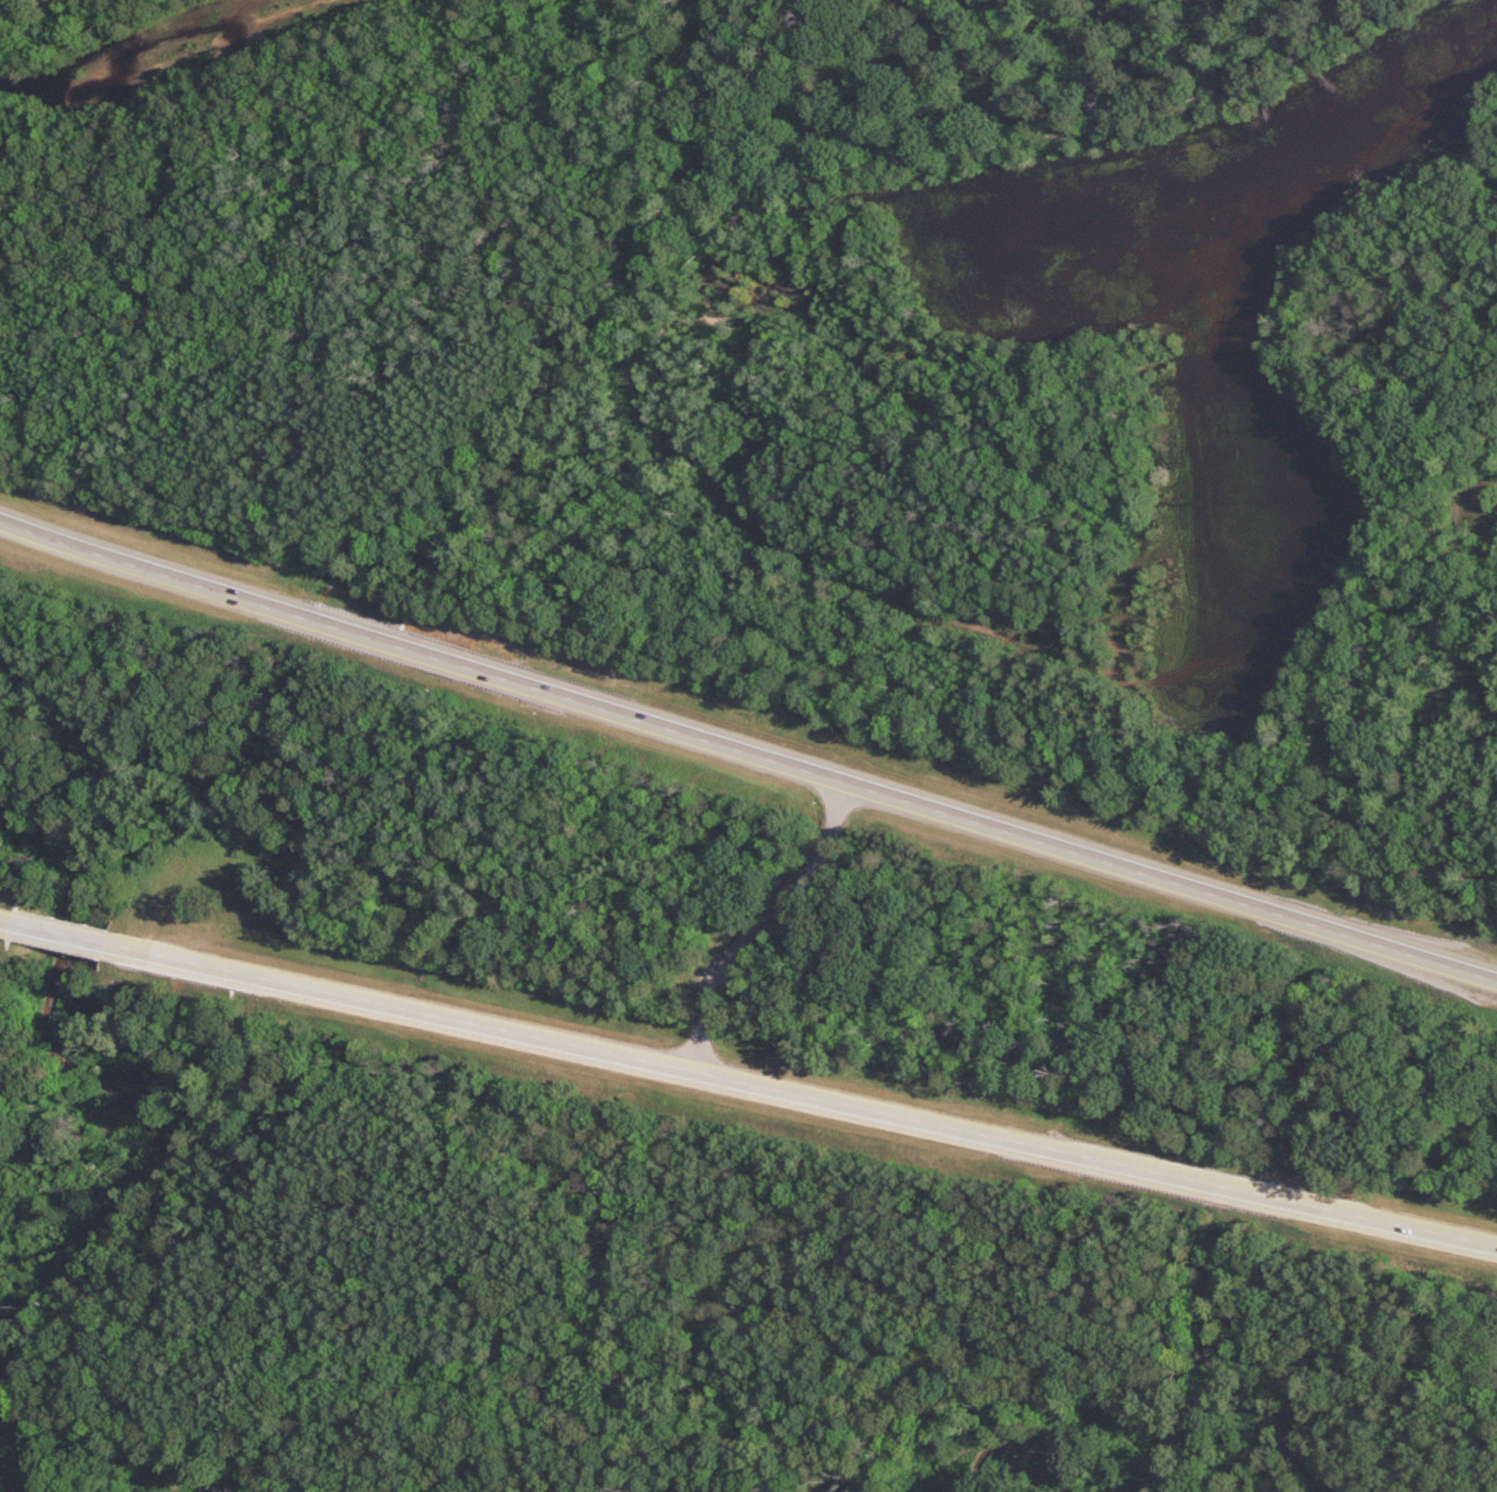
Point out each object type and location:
road: (747, 754)
road: (763, 923)
road: (63, 934)
road: (811, 1097)
road: (653, 1183)
road: (1006, 1363)
road: (110, 1421)

